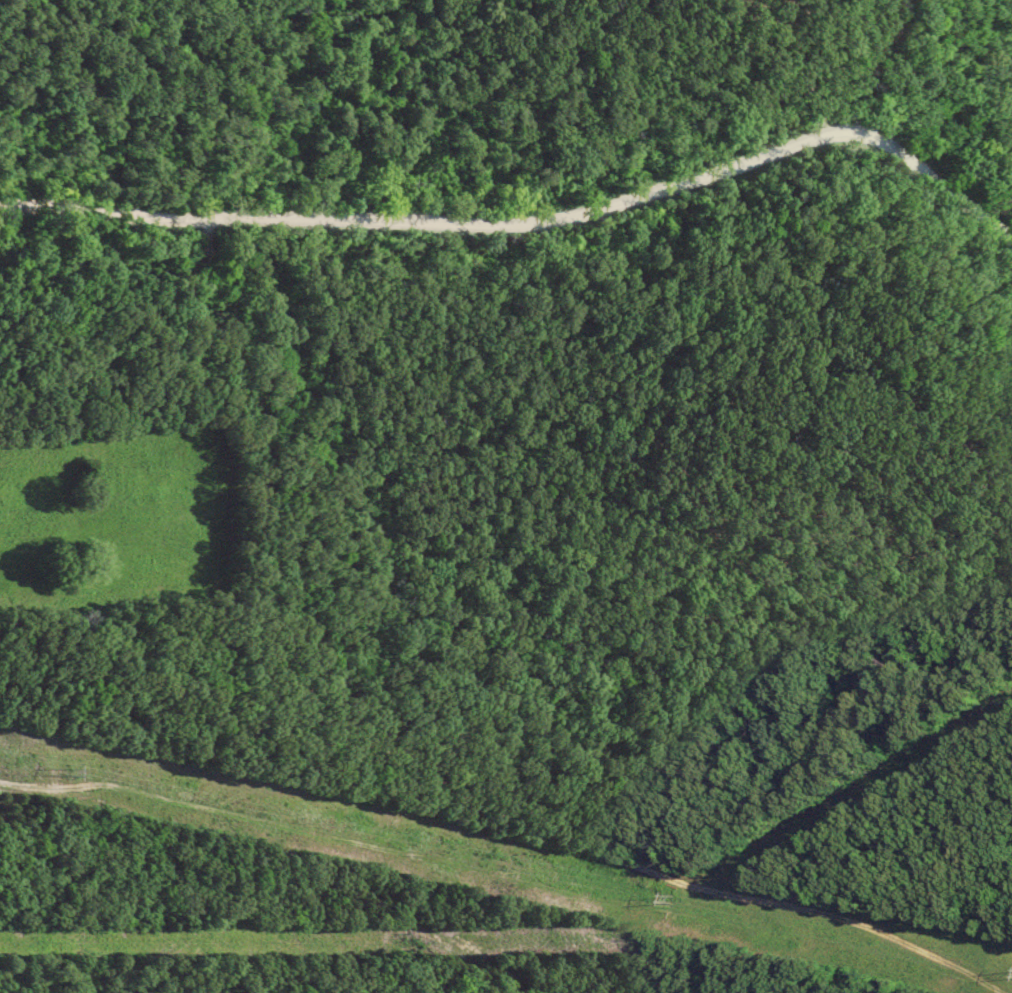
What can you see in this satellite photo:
road: (530, 218)
road: (525, 706)

